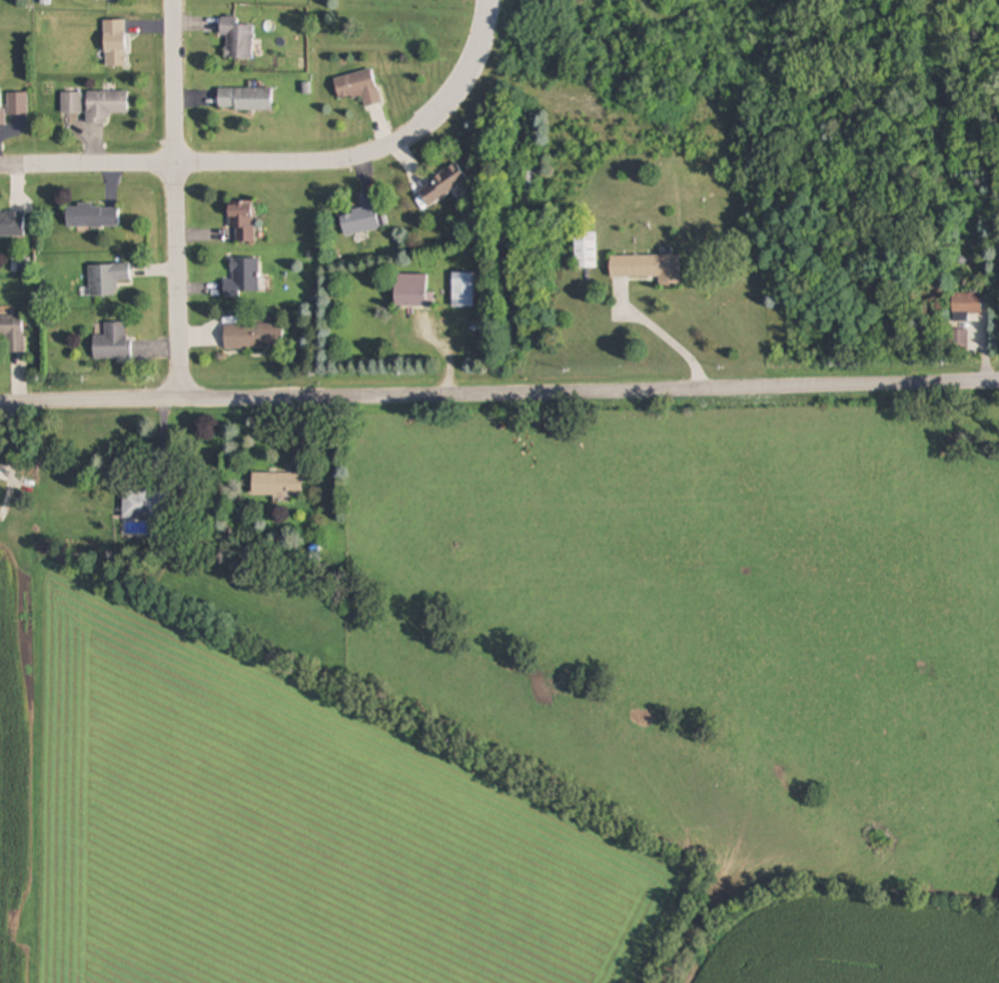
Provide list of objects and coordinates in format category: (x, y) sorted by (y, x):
building: (238, 39)
building: (115, 44)
building: (359, 87)
building: (245, 99)
building: (105, 106)
building: (2, 109)
road: (287, 161)
building: (529, 182)
building: (442, 185)
road: (176, 199)
building: (93, 216)
building: (363, 217)
building: (243, 221)
building: (12, 223)
building: (586, 250)
building: (650, 267)
building: (107, 278)
building: (244, 278)
building: (463, 290)
building: (413, 291)
building: (967, 305)
building: (13, 332)
road: (658, 334)
building: (254, 337)
building: (958, 340)
building: (113, 342)
road: (499, 390)
building: (278, 484)
building: (142, 505)

